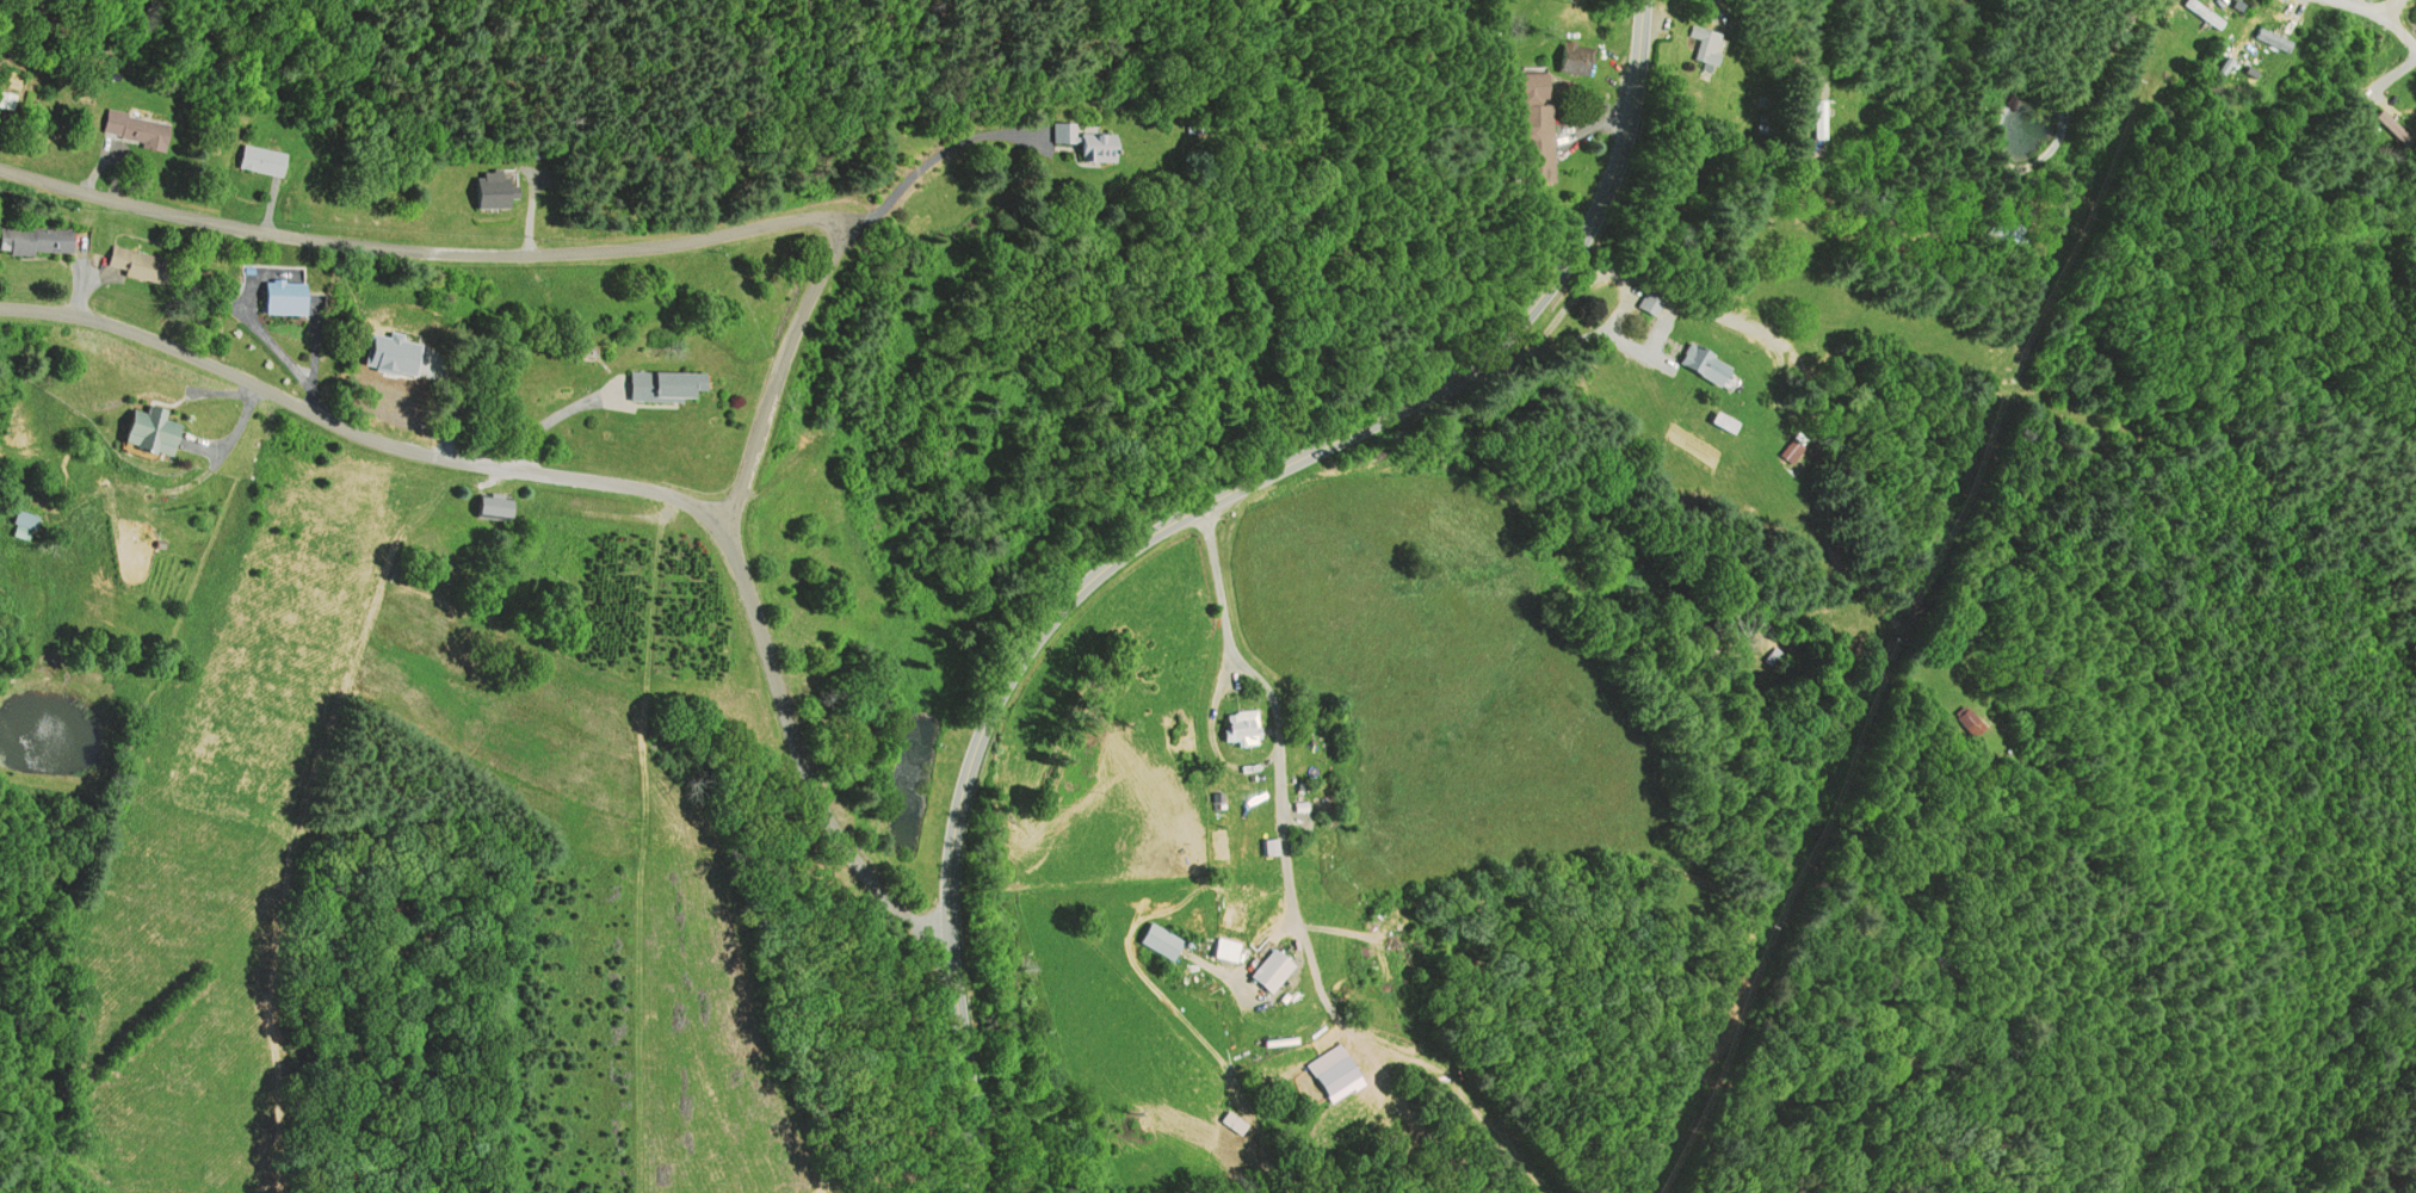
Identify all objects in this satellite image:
road: (2384, 8)
building: (2194, 13)
road: (2380, 20)
building: (2266, 39)
building: (1705, 45)
building: (1575, 58)
building: (1532, 111)
building: (1816, 120)
building: (2390, 126)
building: (138, 130)
building: (1070, 134)
building: (1104, 149)
building: (262, 161)
building: (498, 190)
building: (2004, 237)
building: (39, 241)
road: (598, 247)
building: (142, 265)
building: (291, 298)
building: (1651, 303)
building: (1693, 363)
building: (672, 385)
building: (159, 431)
road: (360, 435)
building: (500, 508)
building: (27, 521)
road: (1169, 521)
building: (1959, 722)
building: (1249, 728)
road: (799, 759)
building: (1278, 848)
building: (1166, 941)
building: (1278, 969)
building: (1329, 1075)
building: (1225, 1124)

